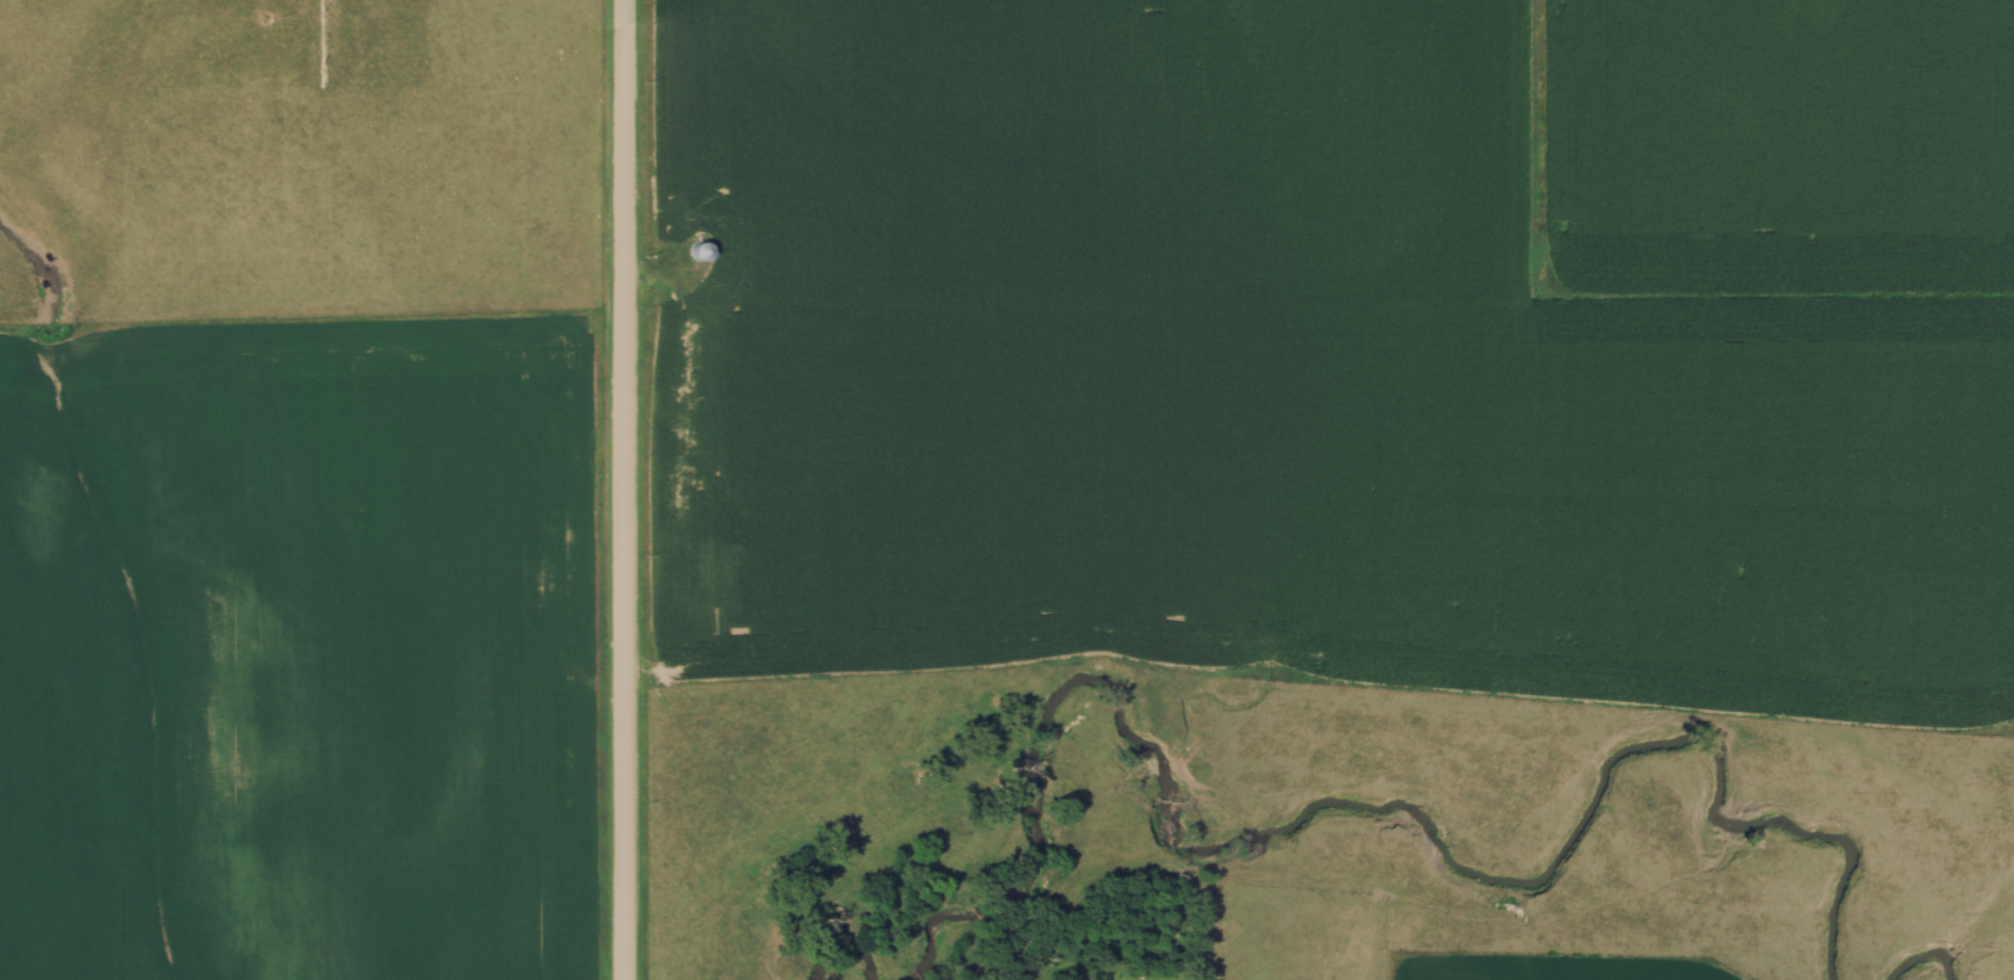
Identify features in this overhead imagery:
crop: (1788, 142)
building: (698, 250)
road: (625, 490)
river: (1380, 807)
river: (846, 921)
river: (1915, 957)

